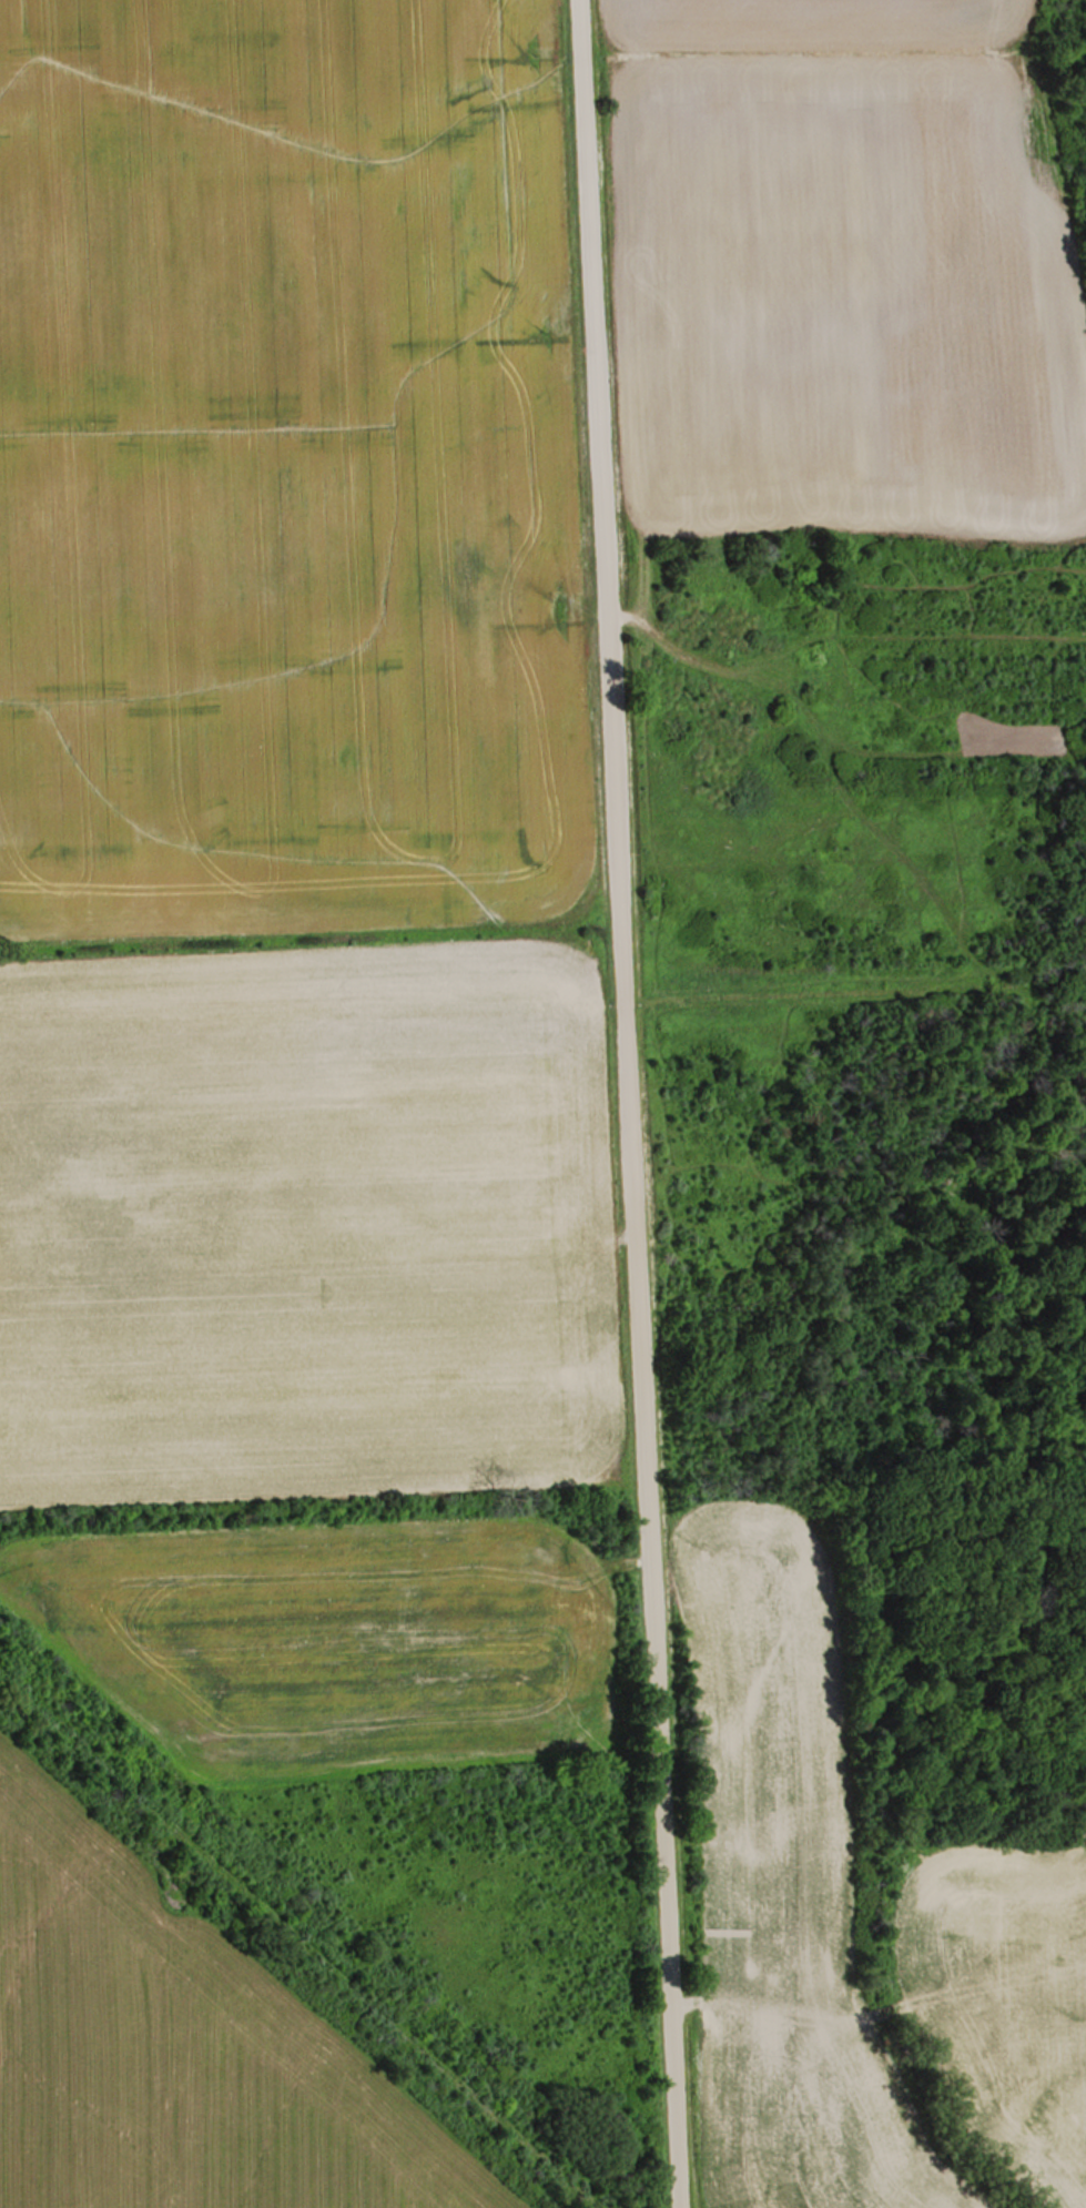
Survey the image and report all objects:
road: (627, 1104)
railway: (294, 1941)

